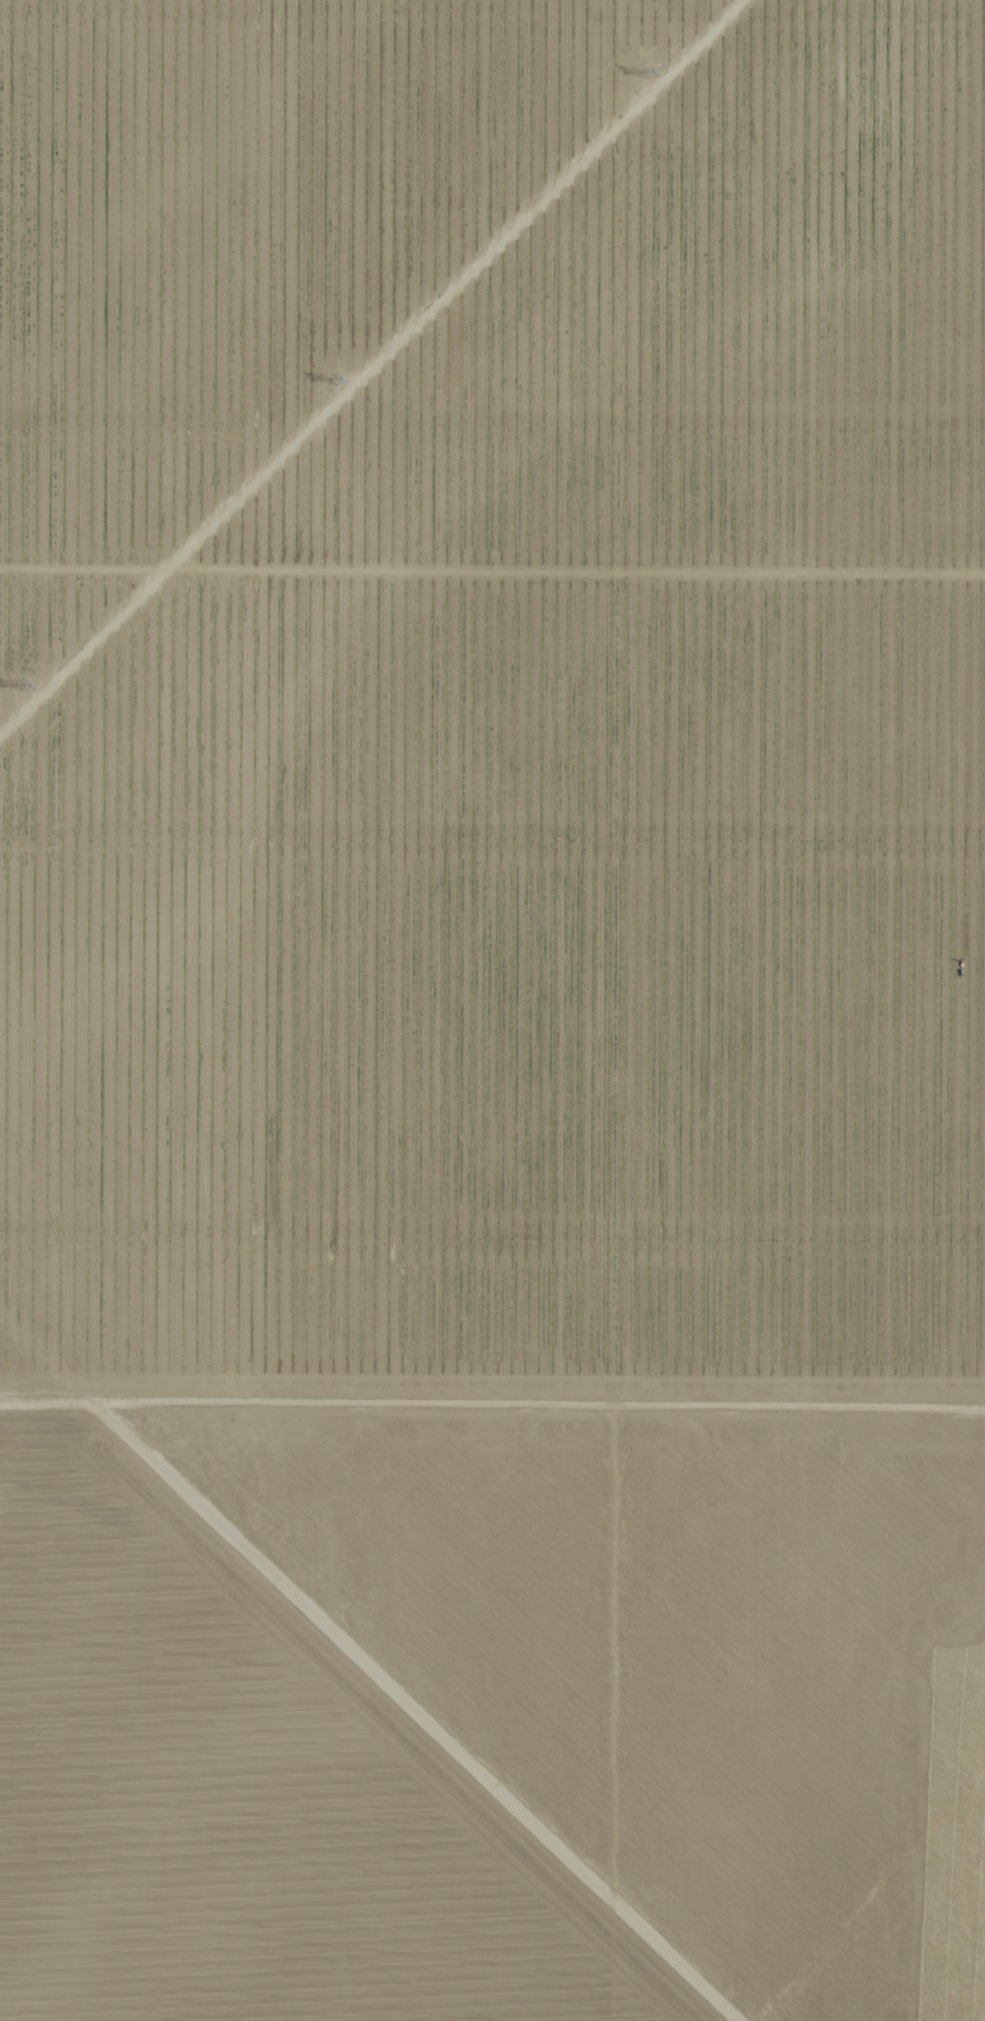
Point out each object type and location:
power tower: (647, 73)
crop: (217, 236)
power tower: (340, 381)
power tower: (26, 684)
crop: (573, 1208)

